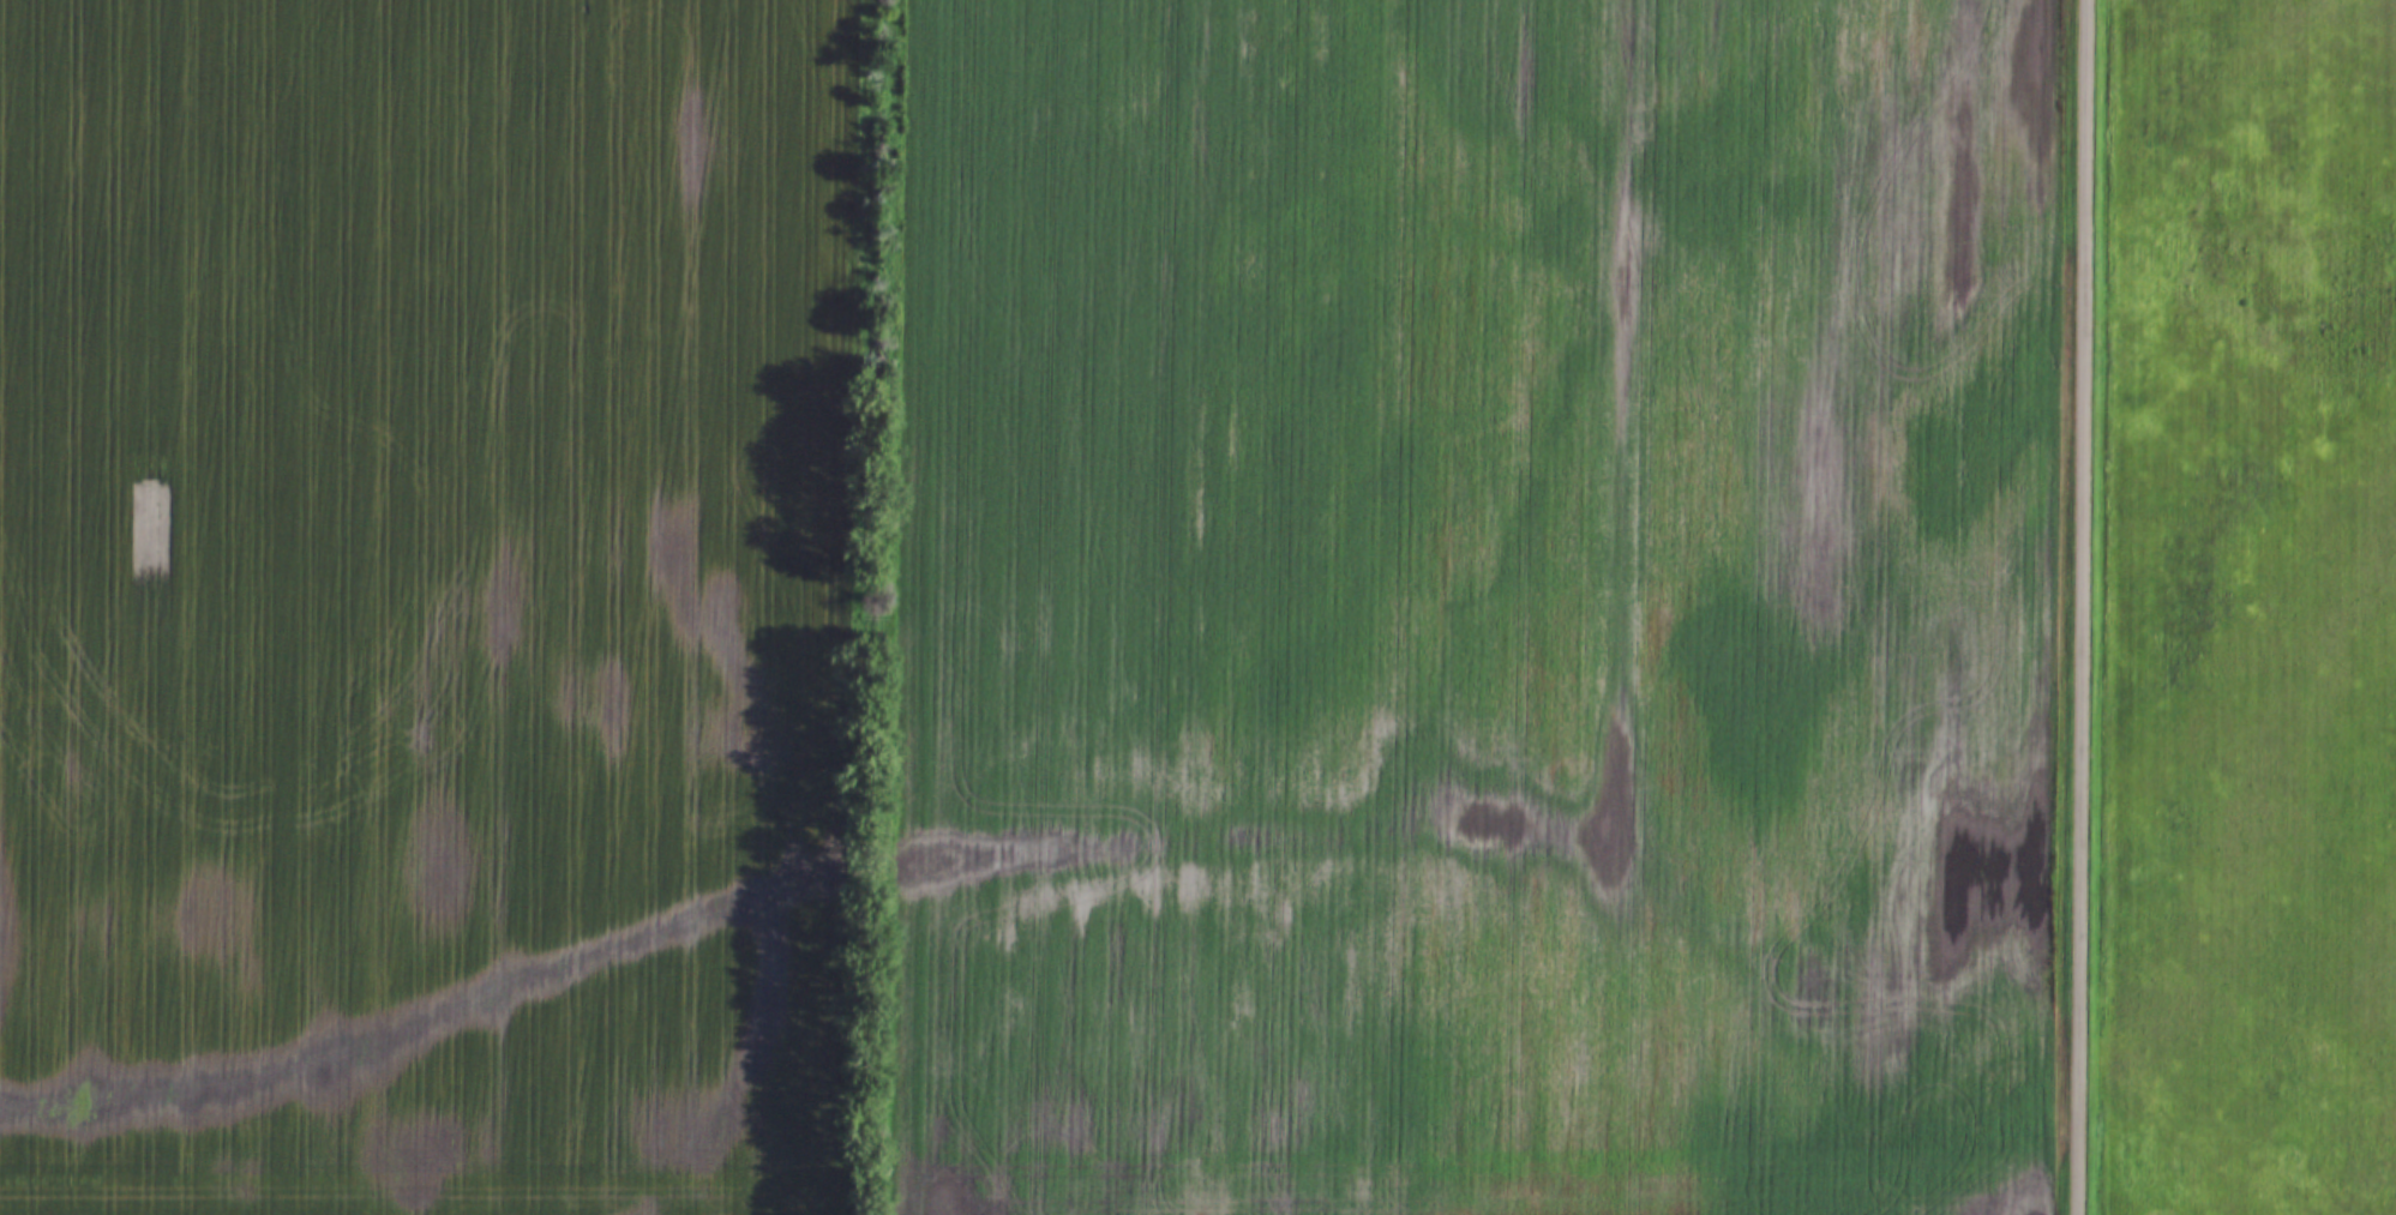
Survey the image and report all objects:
road: (2086, 607)

